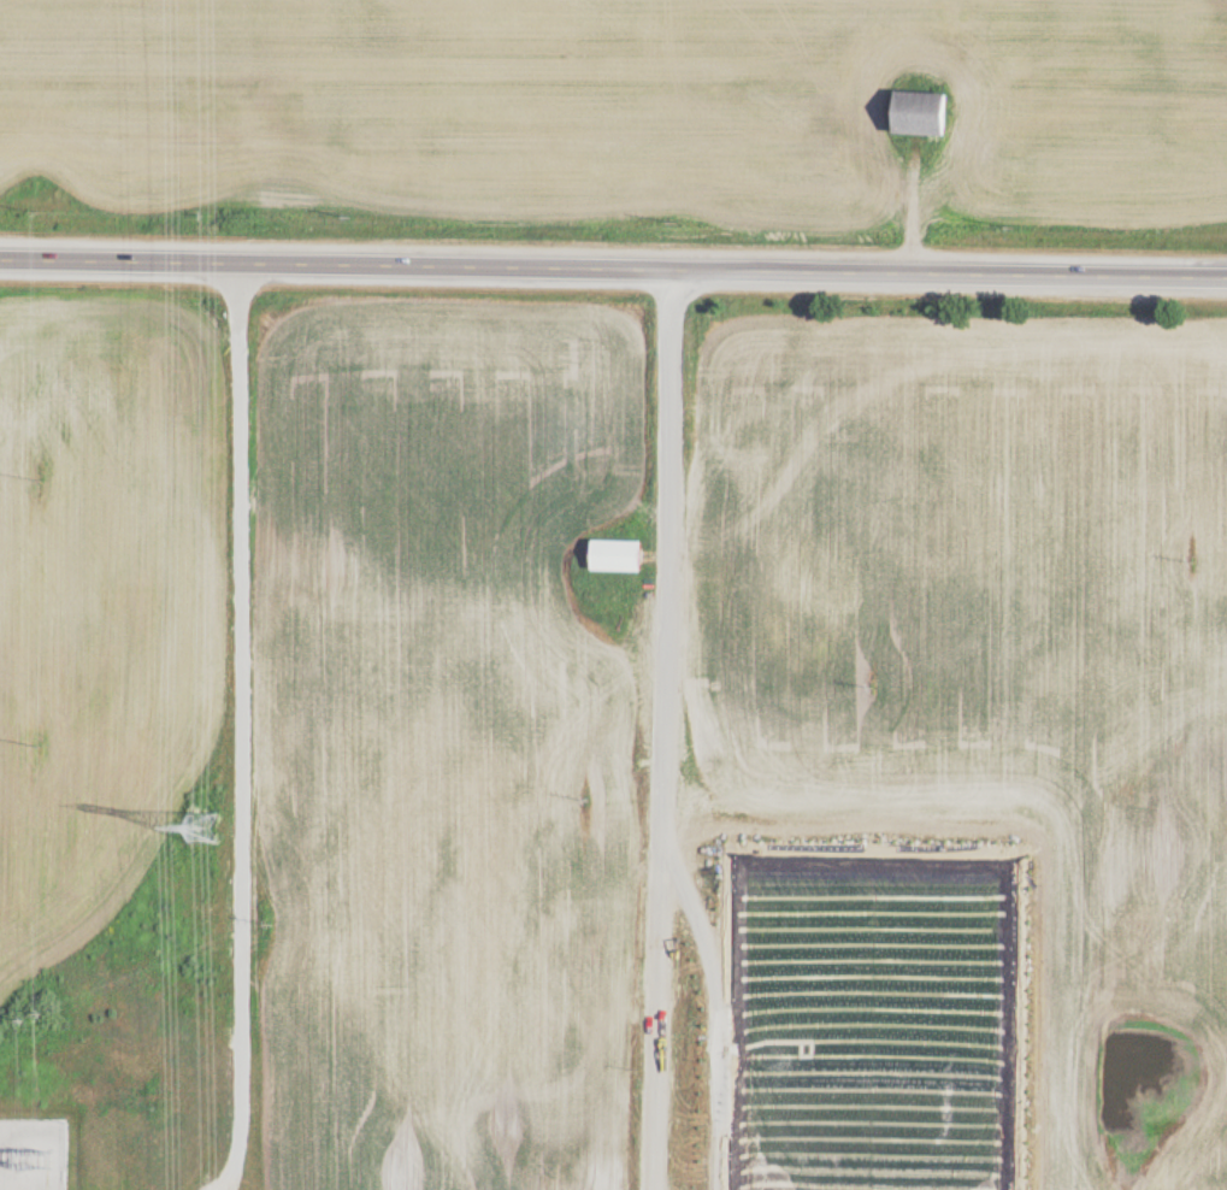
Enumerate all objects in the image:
building: (931, 116)
road: (613, 266)
building: (624, 560)
road: (242, 727)
road: (665, 727)
power tower: (205, 827)
power substation: (33, 1156)

